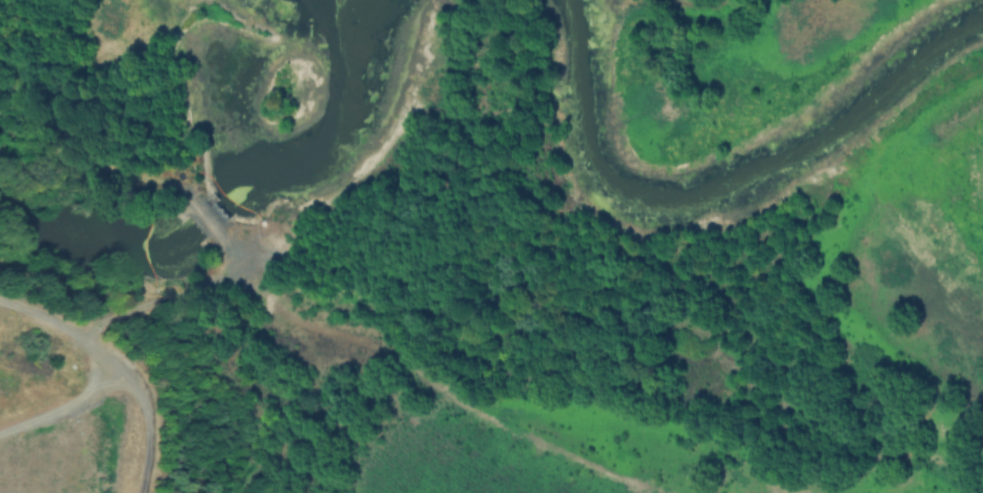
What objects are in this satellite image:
road: (210, 281)
road: (62, 322)
road: (445, 392)
road: (61, 408)
road: (147, 423)

